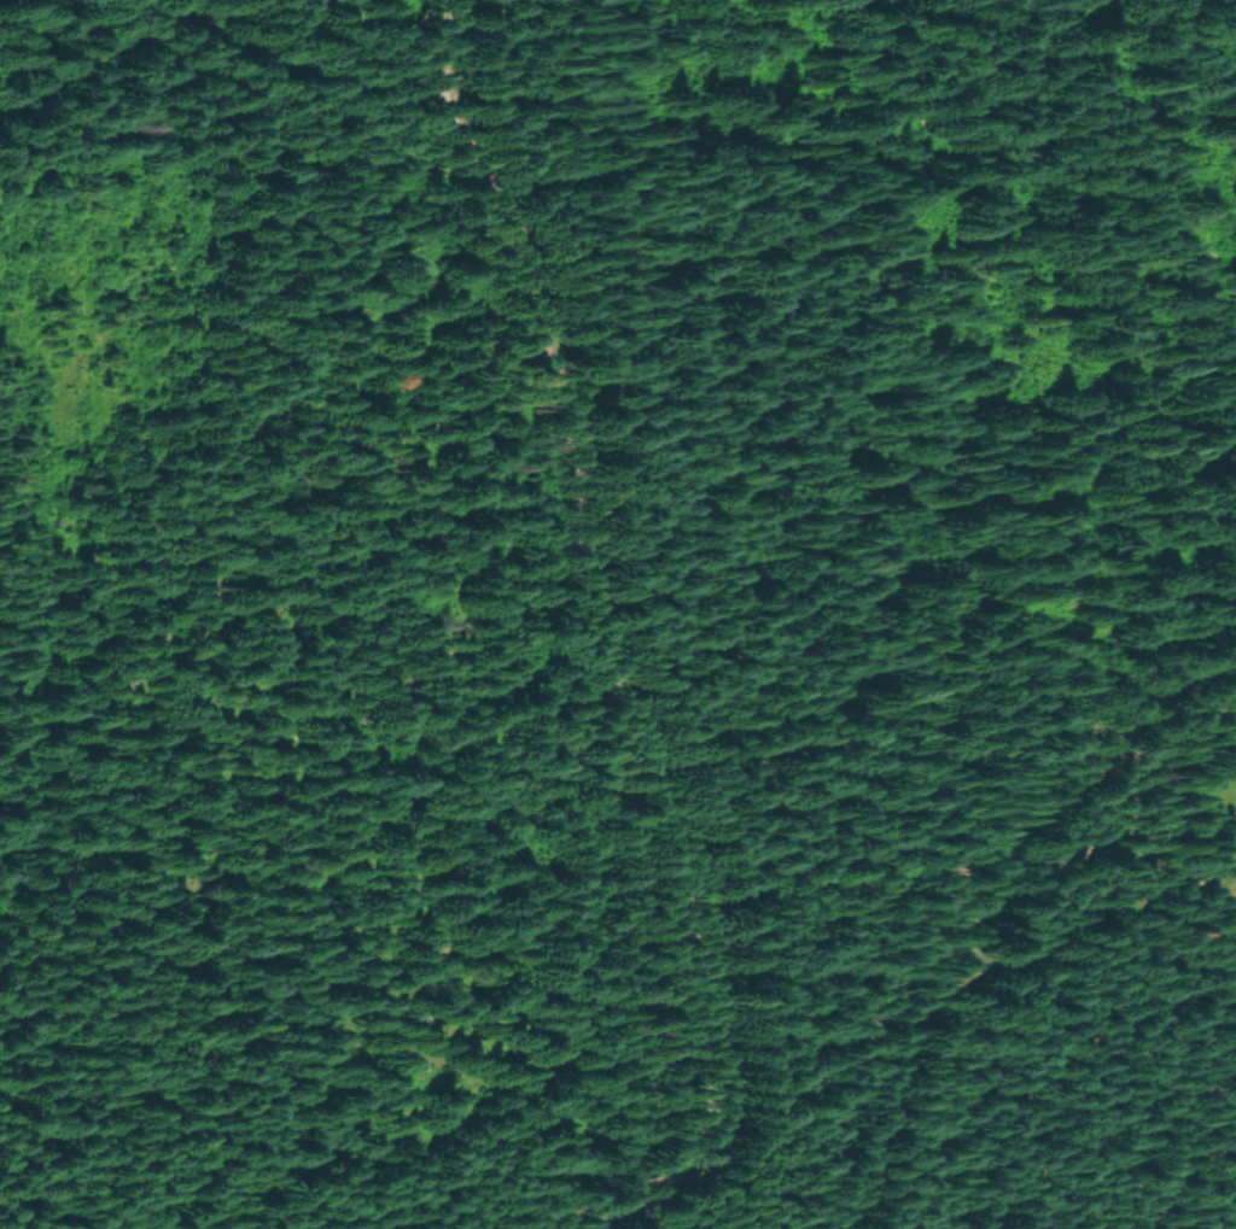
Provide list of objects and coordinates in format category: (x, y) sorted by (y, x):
road: (608, 639)
road: (1085, 855)
road: (986, 900)

